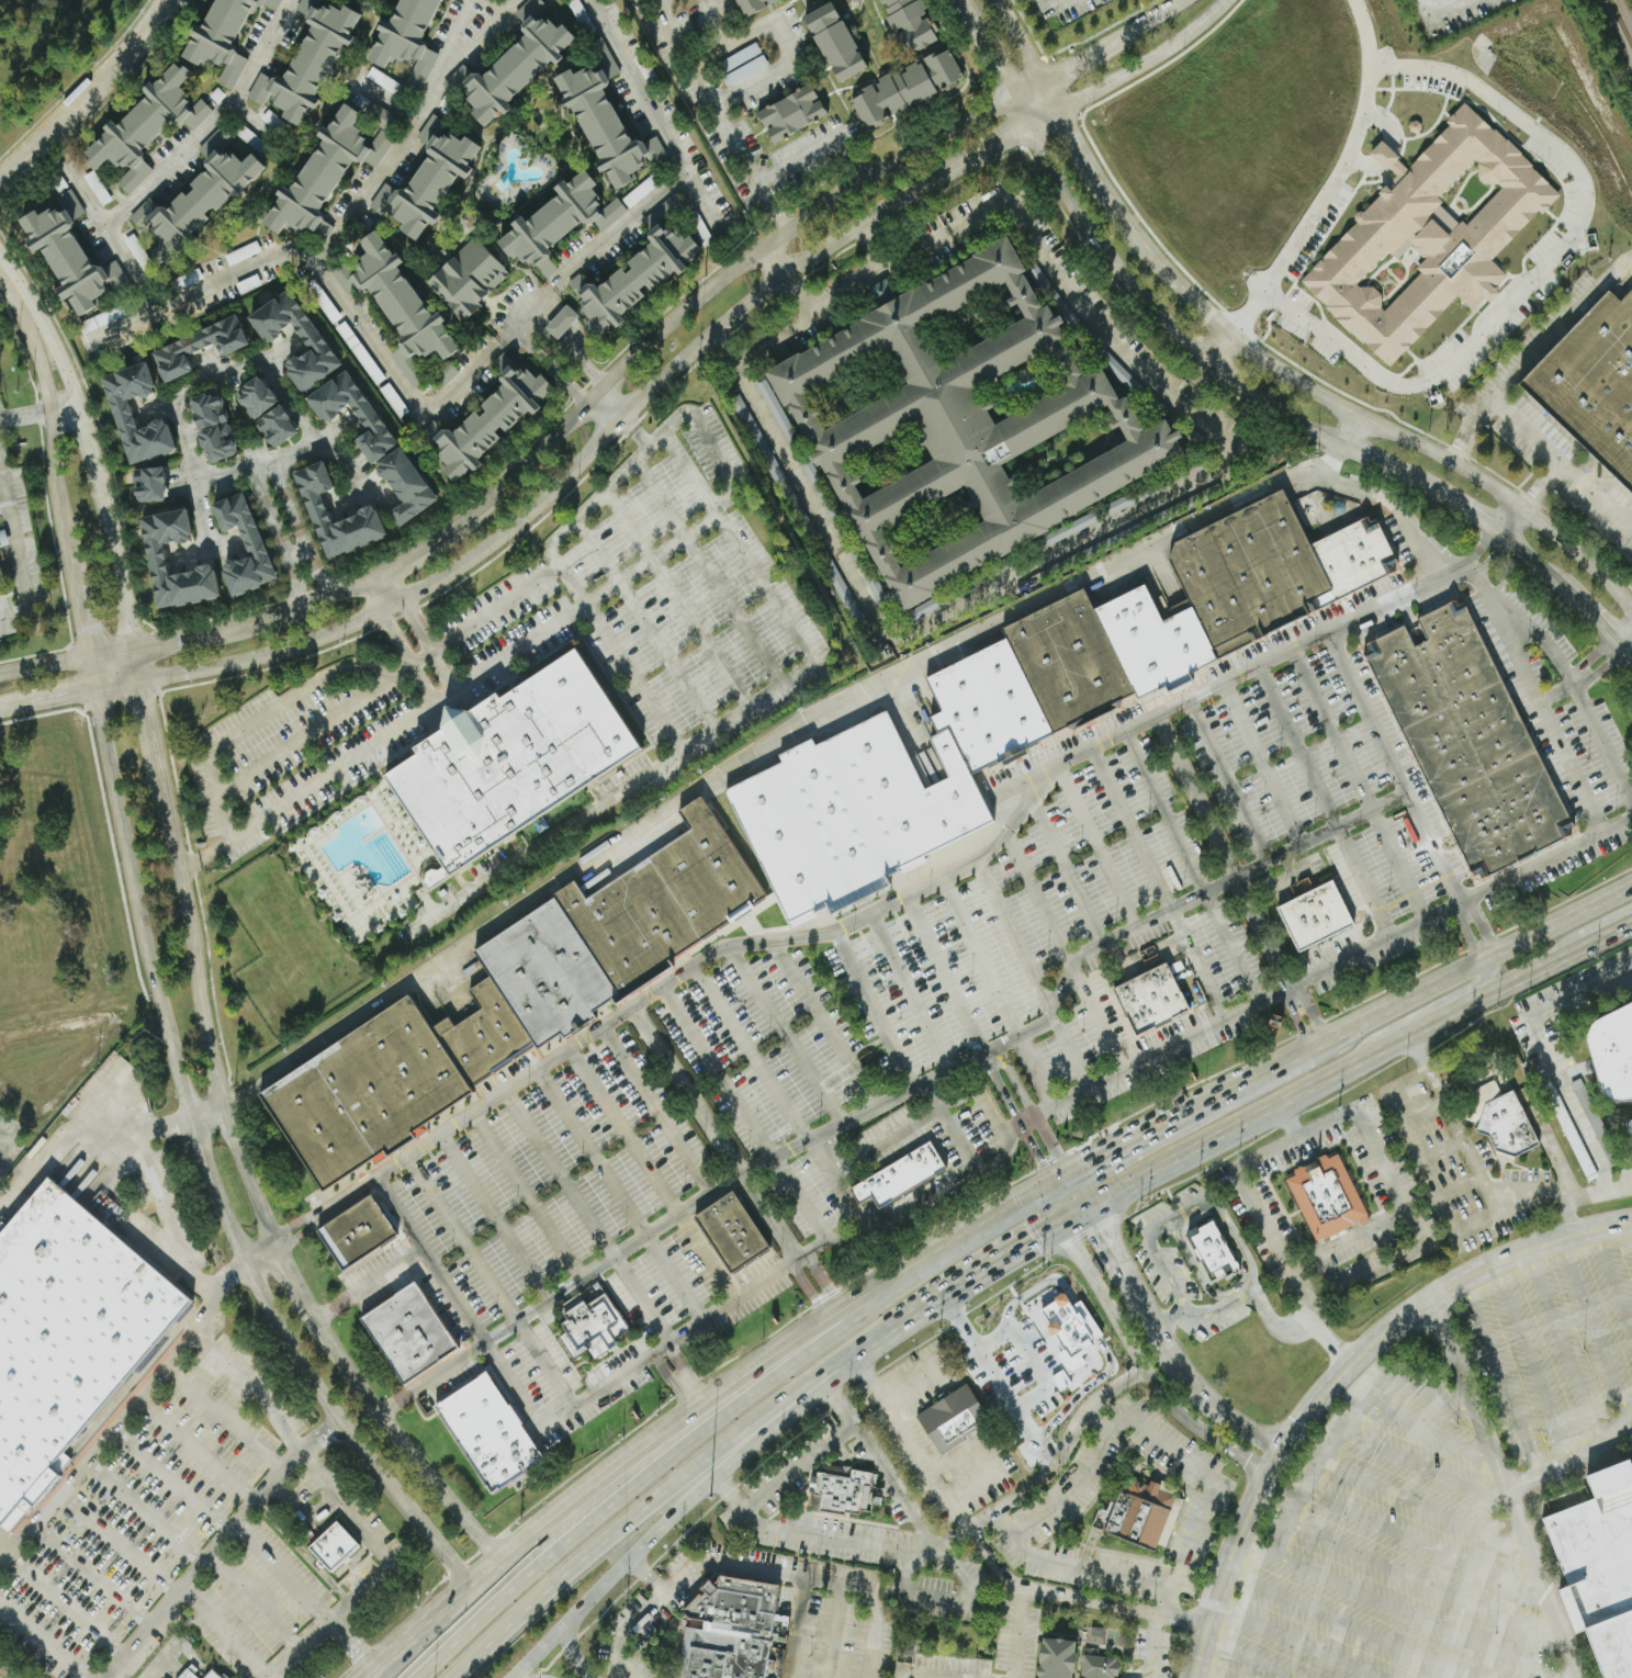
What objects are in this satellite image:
road: (665, 2)
road: (1062, 3)
building: (753, 5)
road: (1432, 10)
road: (1152, 16)
road: (722, 22)
building: (912, 22)
railway: (1620, 23)
road: (791, 35)
building: (224, 36)
building: (407, 38)
building: (835, 40)
road: (1016, 40)
road: (1145, 61)
building: (514, 64)
road: (992, 64)
road: (1066, 65)
building: (743, 71)
road: (633, 87)
building: (907, 88)
road: (91, 94)
building: (791, 113)
road: (725, 115)
road: (1039, 120)
building: (146, 126)
building: (606, 126)
road: (1069, 133)
road: (819, 136)
road: (980, 151)
road: (178, 159)
building: (329, 169)
building: (427, 180)
road: (1331, 190)
road: (85, 198)
building: (198, 198)
road: (643, 209)
building: (560, 222)
road: (345, 230)
building: (1428, 234)
road: (915, 247)
building: (70, 255)
road: (1539, 259)
road: (776, 260)
building: (635, 274)
building: (469, 278)
building: (187, 279)
road: (845, 286)
building: (878, 291)
road: (19, 294)
building: (397, 305)
road: (536, 307)
building: (100, 319)
road: (799, 319)
building: (561, 322)
building: (308, 334)
road: (1185, 339)
road: (720, 345)
road: (1220, 346)
building: (198, 347)
road: (279, 349)
road: (1535, 354)
road: (559, 361)
road: (209, 362)
road: (731, 363)
building: (446, 373)
road: (209, 374)
road: (393, 375)
road: (1197, 382)
building: (1592, 383)
building: (256, 397)
road: (156, 406)
building: (121, 409)
road: (40, 410)
building: (367, 414)
road: (1353, 415)
road: (566, 417)
building: (491, 419)
building: (964, 424)
building: (213, 427)
building: (277, 427)
road: (1526, 429)
road: (634, 430)
road: (1349, 432)
road: (327, 442)
road: (52, 454)
road: (1333, 461)
road: (222, 470)
road: (1571, 474)
building: (149, 485)
building: (406, 485)
road: (362, 491)
road: (289, 503)
road: (1454, 505)
road: (1397, 507)
road: (268, 509)
building: (365, 515)
road: (576, 516)
road: (1507, 520)
road: (511, 523)
road: (1629, 528)
road: (1073, 542)
building: (254, 544)
road: (1481, 548)
road: (204, 549)
road: (1517, 550)
road: (296, 551)
road: (15, 553)
road: (654, 553)
building: (155, 555)
road: (318, 573)
road: (296, 579)
building: (0, 586)
road: (1580, 604)
road: (81, 618)
road: (421, 627)
building: (1149, 629)
road: (1625, 638)
road: (399, 640)
road: (1625, 649)
road: (423, 655)
road: (44, 665)
road: (632, 675)
road: (1584, 678)
road: (1579, 679)
road: (775, 687)
road: (266, 709)
road: (1545, 720)
road: (1332, 729)
road: (304, 735)
road: (390, 737)
building: (1467, 740)
road: (1298, 745)
building: (510, 762)
road: (1263, 763)
road: (719, 764)
road: (1394, 767)
road: (1228, 779)
road: (160, 782)
road: (1166, 813)
building: (853, 814)
road: (1133, 830)
road: (1319, 834)
road: (1098, 847)
road: (1222, 852)
road: (1547, 859)
road: (1399, 864)
road: (1068, 871)
road: (950, 874)
road: (1365, 880)
road: (1038, 898)
building: (662, 901)
building: (1314, 916)
road: (1483, 923)
road: (1465, 932)
road: (1617, 934)
road: (1016, 939)
road: (1233, 948)
road: (1092, 949)
road: (1487, 955)
road: (981, 957)
road: (1198, 966)
building: (547, 973)
road: (946, 973)
road: (910, 993)
building: (1149, 1001)
road: (1468, 1007)
road: (1239, 1010)
road: (1310, 1010)
road: (873, 1011)
road: (1417, 1012)
road: (1098, 1015)
road: (1294, 1016)
road: (824, 1023)
building: (483, 1034)
road: (786, 1034)
road: (1326, 1039)
road: (1550, 1050)
road: (1073, 1051)
road: (751, 1052)
building: (1612, 1055)
road: (1037, 1071)
road: (717, 1072)
road: (1260, 1072)
road: (1313, 1086)
building: (364, 1093)
road: (983, 1102)
road: (1031, 1108)
road: (655, 1110)
road: (1016, 1117)
building: (1499, 1119)
road: (910, 1126)
building: (1630, 1126)
road: (954, 1128)
road: (623, 1130)
road: (716, 1133)
road: (1138, 1135)
road: (590, 1152)
road: (1190, 1152)
road: (205, 1153)
road: (1005, 1153)
road: (851, 1155)
traffic signals: (1038, 1157)
road: (858, 1161)
traffic signals: (1087, 1163)
road: (1474, 1163)
building: (898, 1178)
road: (1059, 1178)
road: (29, 1182)
road: (727, 1182)
road: (836, 1185)
road: (1598, 1189)
road: (862, 1191)
road: (1078, 1191)
road: (525, 1195)
building: (1323, 1198)
road: (178, 1201)
road: (799, 1201)
road: (1057, 1201)
road: (935, 1204)
road: (1202, 1204)
road: (322, 1210)
road: (869, 1214)
road: (1076, 1214)
road: (493, 1217)
road: (586, 1217)
road: (982, 1224)
road: (1630, 1224)
road: (1419, 1227)
road: (882, 1230)
traffic signals: (1103, 1230)
building: (354, 1232)
building: (729, 1232)
road: (461, 1239)
road: (1358, 1239)
road: (834, 1241)
traffic signals: (1029, 1241)
building: (1207, 1247)
road: (901, 1250)
road: (1008, 1253)
road: (429, 1259)
road: (1119, 1261)
road: (1296, 1265)
road: (383, 1273)
road: (818, 1274)
road: (1611, 1276)
road: (674, 1277)
road: (804, 1285)
road: (875, 1293)
road: (731, 1300)
road: (329, 1308)
road: (832, 1309)
road: (1592, 1326)
building: (586, 1327)
road: (1093, 1330)
building: (66, 1333)
building: (407, 1333)
road: (1127, 1341)
road: (1563, 1344)
road: (977, 1345)
building: (1042, 1347)
road: (948, 1352)
road: (853, 1356)
road: (1532, 1361)
road: (542, 1363)
road: (446, 1367)
road: (1332, 1370)
road: (684, 1371)
road: (1501, 1376)
road: (511, 1382)
road: (601, 1383)
road: (1415, 1386)
road: (1203, 1396)
road: (838, 1400)
road: (132, 1401)
road: (394, 1404)
road: (376, 1407)
road: (1062, 1407)
building: (952, 1420)
road: (856, 1426)
road: (1428, 1429)
building: (486, 1432)
road: (195, 1449)
road: (1242, 1456)
road: (1577, 1460)
road: (1317, 1461)
road: (1423, 1466)
road: (961, 1467)
road: (597, 1479)
road: (1510, 1485)
road: (624, 1493)
building: (837, 1493)
road: (1426, 1502)
road: (344, 1504)
building: (1132, 1522)
road: (954, 1540)
road: (1193, 1543)
road: (1427, 1544)
building: (333, 1545)
road: (214, 1546)
road: (598, 1546)
road: (991, 1551)
road: (634, 1554)
building: (1598, 1567)
road: (756, 1569)
road: (650, 1576)
road: (1427, 1585)
road: (306, 1597)
road: (965, 1606)
road: (1395, 1609)
road: (1348, 1624)
building: (733, 1630)
road: (797, 1630)
road: (222, 1632)
road: (832, 1633)
road: (1018, 1634)
building: (1094, 1635)
road: (1297, 1641)
road: (37, 1643)
road: (1151, 1648)
road: (574, 1655)
road: (1250, 1657)
building: (1071, 1660)
building: (211, 1675)
road: (373, 1675)
road: (932, 1675)
building: (190, 1676)
road: (1200, 1676)

